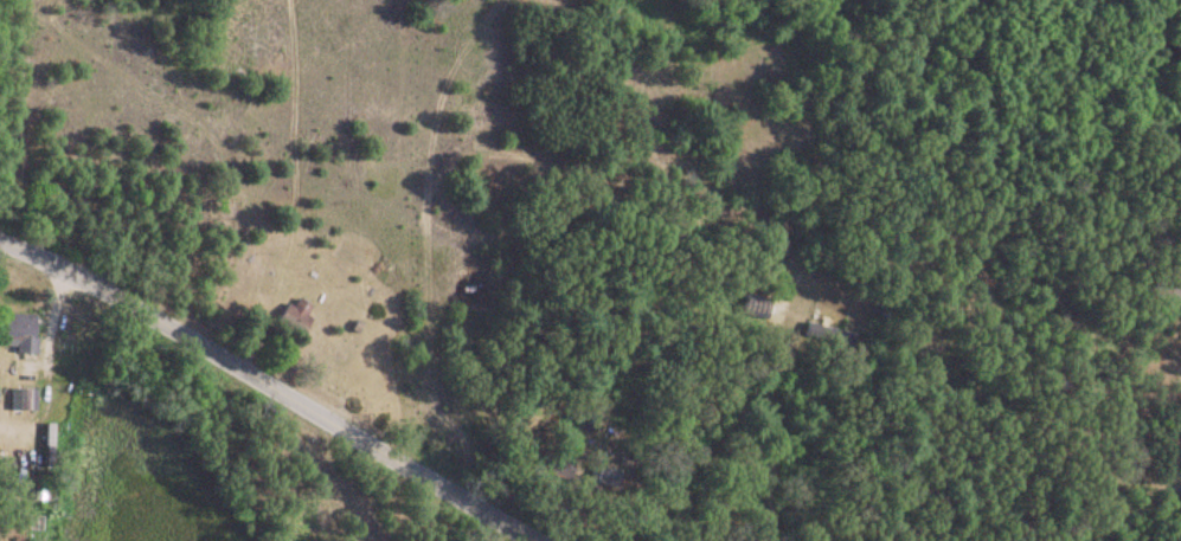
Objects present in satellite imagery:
road: (271, 388)

